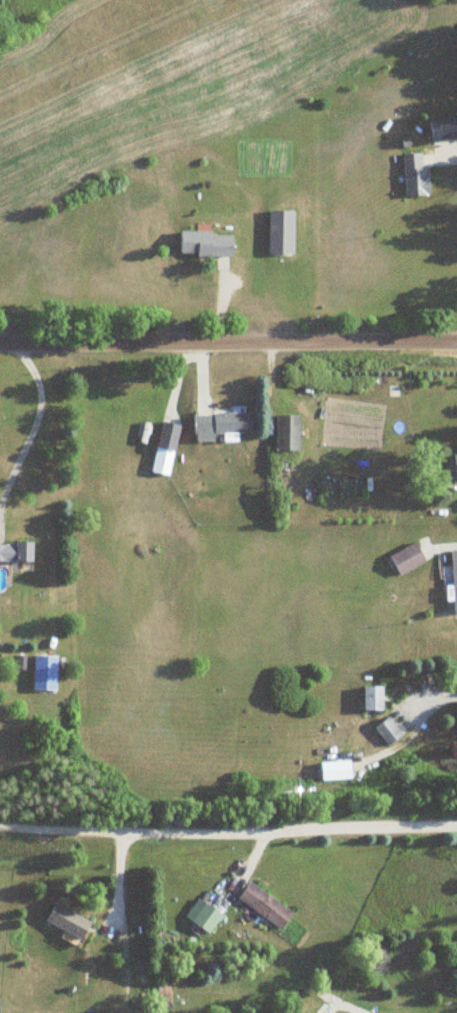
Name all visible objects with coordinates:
building: (443, 128)
building: (416, 175)
building: (281, 232)
building: (206, 244)
road: (228, 343)
road: (35, 422)
building: (221, 425)
building: (288, 433)
building: (166, 449)
building: (451, 469)
building: (17, 553)
building: (408, 559)
building: (455, 578)
building: (45, 673)
road: (432, 696)
building: (373, 698)
building: (389, 731)
road: (228, 829)
road: (112, 883)
building: (266, 906)
building: (208, 919)
building: (69, 923)
road: (348, 1005)

